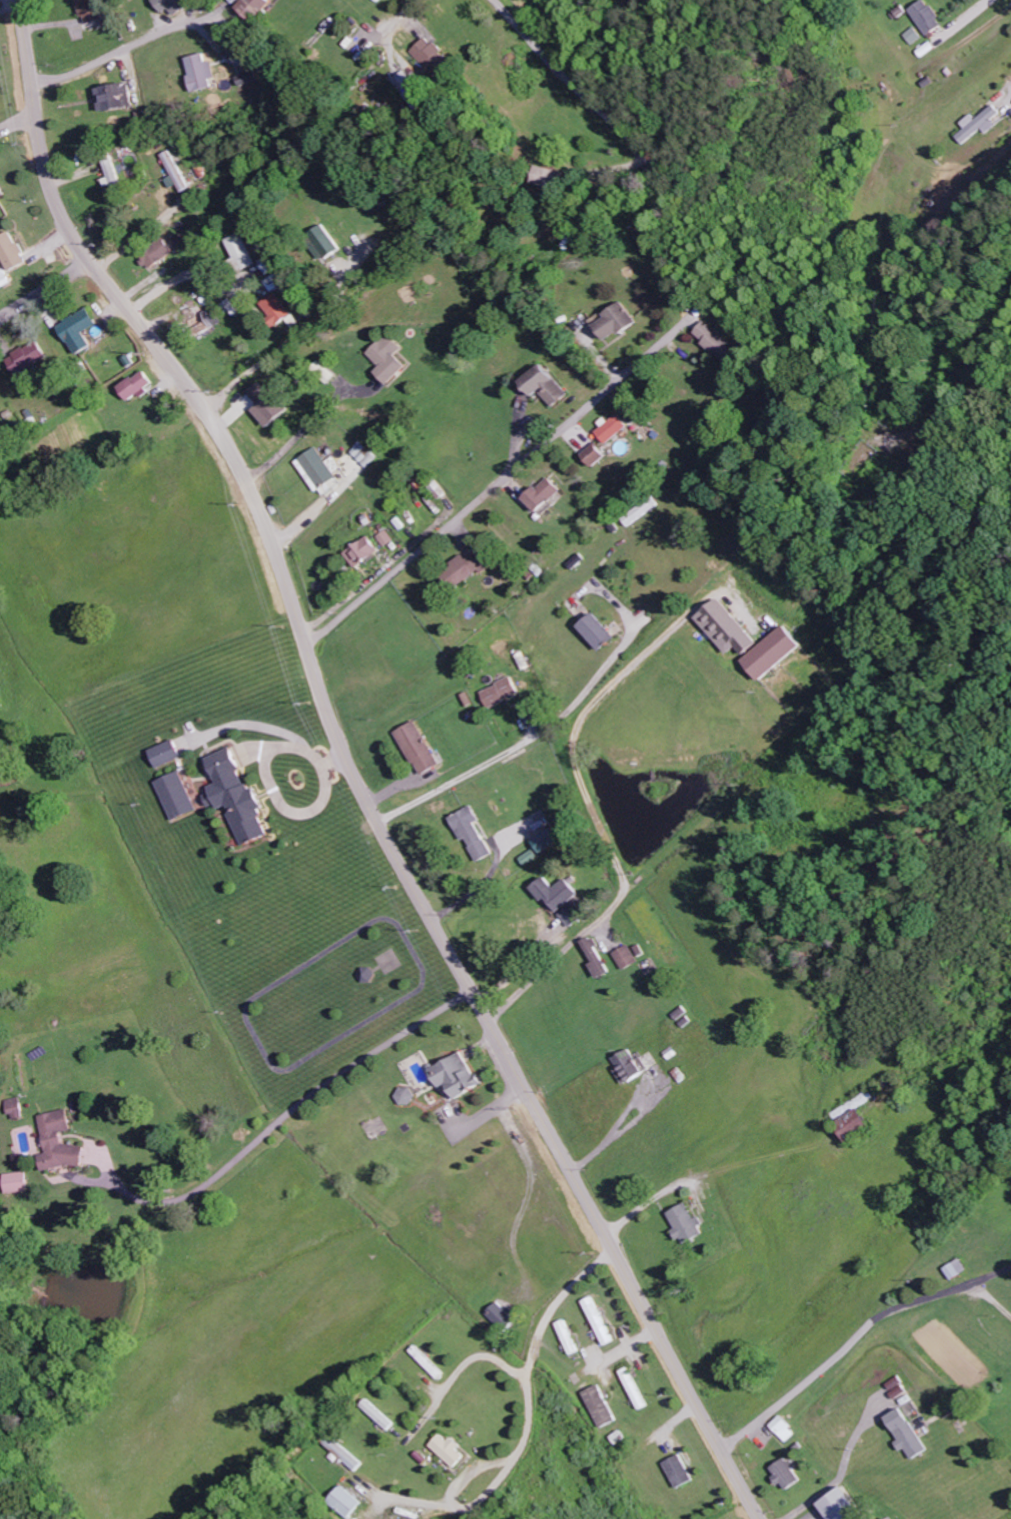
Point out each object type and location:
building: (383, 0)
building: (175, 5)
building: (256, 7)
building: (92, 10)
building: (928, 16)
building: (914, 35)
building: (433, 54)
building: (205, 72)
building: (252, 77)
road: (574, 84)
building: (414, 89)
building: (118, 96)
road: (456, 104)
road: (17, 124)
building: (981, 124)
building: (178, 172)
building: (548, 175)
building: (116, 176)
building: (2, 191)
building: (329, 242)
building: (13, 250)
building: (245, 251)
building: (158, 253)
building: (6, 277)
road: (45, 289)
building: (280, 309)
building: (206, 321)
building: (620, 321)
building: (81, 330)
building: (721, 343)
building: (29, 356)
building: (394, 358)
building: (138, 385)
building: (552, 385)
building: (270, 404)
building: (616, 429)
building: (366, 454)
building: (599, 454)
building: (320, 470)
road: (495, 488)
building: (547, 494)
building: (644, 511)
building: (388, 538)
building: (365, 552)
building: (467, 569)
road: (602, 591)
building: (733, 628)
building: (602, 632)
building: (779, 653)
building: (505, 692)
building: (423, 748)
building: (170, 753)
road: (352, 770)
building: (181, 796)
building: (240, 797)
road: (732, 819)
building: (476, 832)
building: (549, 840)
building: (559, 893)
building: (574, 914)
building: (628, 957)
building: (598, 958)
building: (630, 1067)
building: (458, 1075)
building: (407, 1096)
building: (19, 1108)
building: (857, 1125)
building: (64, 1142)
building: (21, 1182)
building: (688, 1224)
building: (957, 1269)
building: (503, 1317)
building: (600, 1321)
building: (570, 1337)
building: (636, 1388)
building: (602, 1407)
building: (379, 1415)
building: (785, 1429)
building: (908, 1435)
building: (449, 1450)
building: (345, 1453)
building: (681, 1472)
building: (787, 1475)
building: (346, 1502)
building: (843, 1507)

